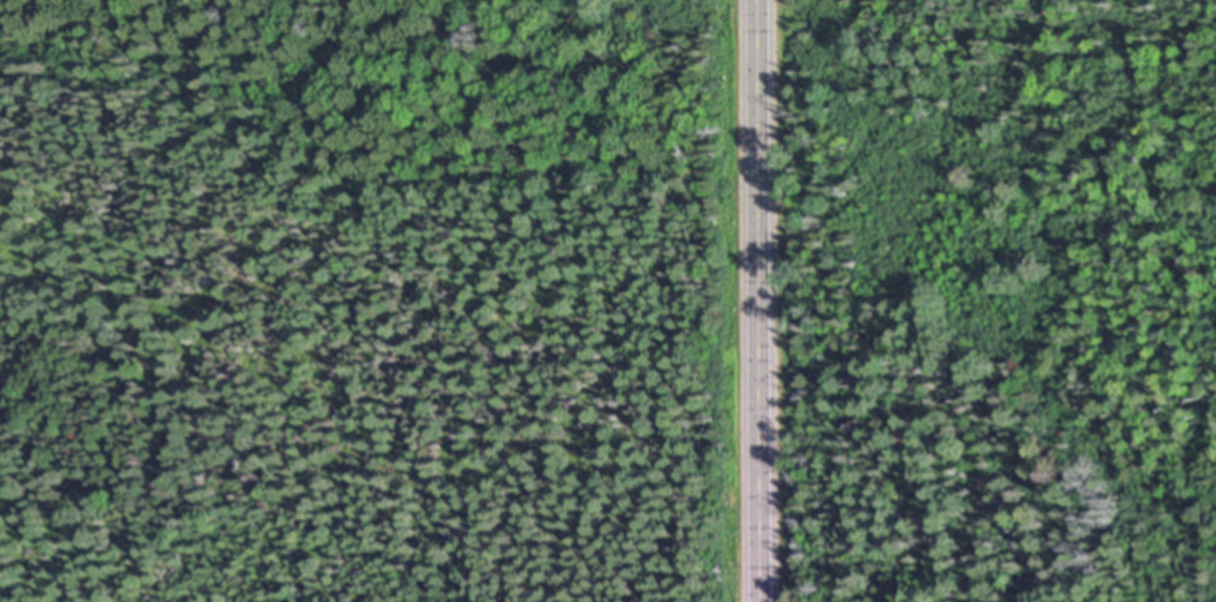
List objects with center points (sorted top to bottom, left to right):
road: (758, 300)

